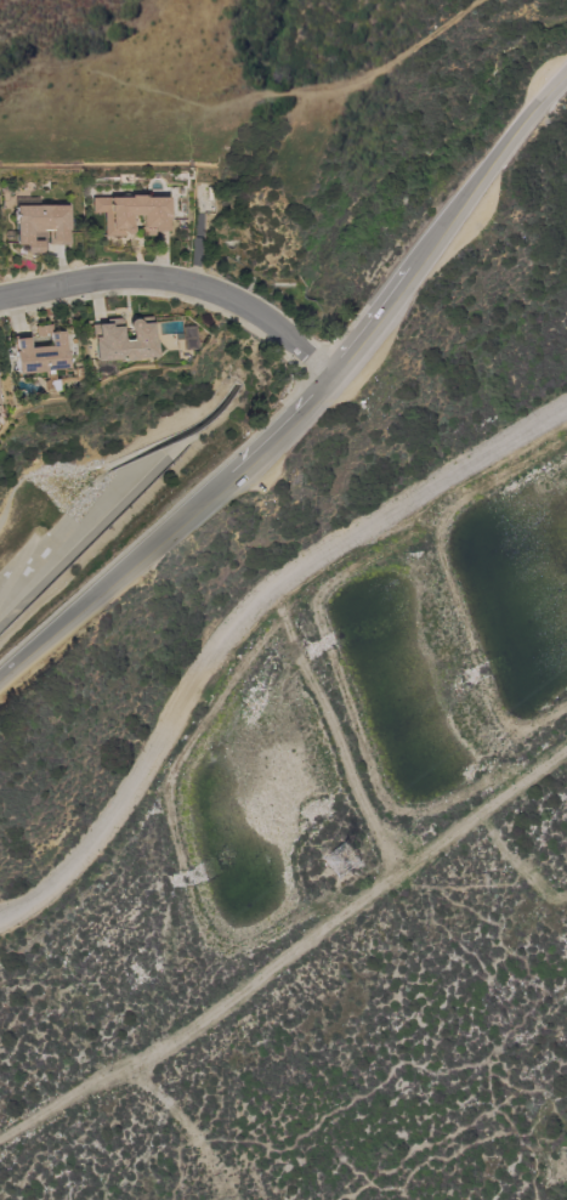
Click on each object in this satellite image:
road: (345, 90)
road: (487, 171)
building: (131, 214)
building: (39, 225)
road: (181, 278)
road: (372, 326)
building: (183, 338)
building: (119, 340)
building: (35, 352)
road: (282, 426)
road: (115, 571)
road: (239, 615)
power tower: (342, 864)

